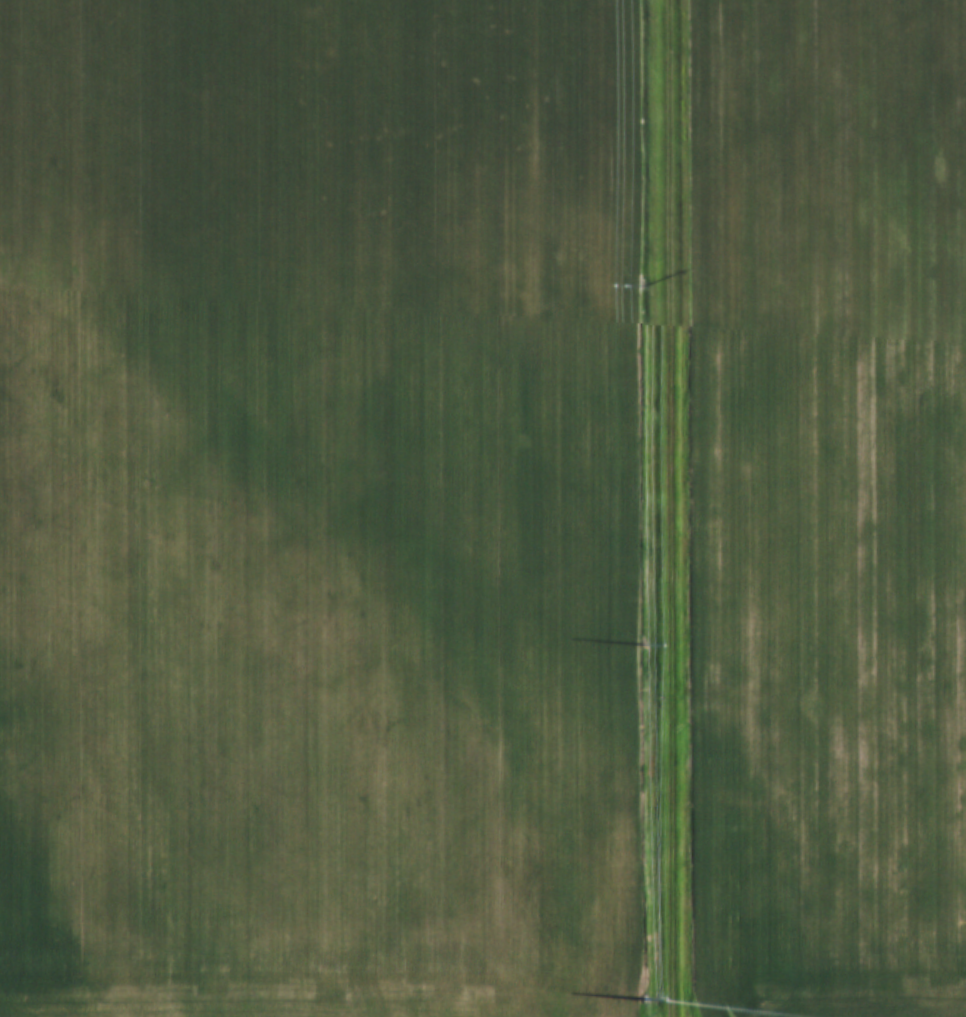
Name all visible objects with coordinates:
road: (677, 508)

